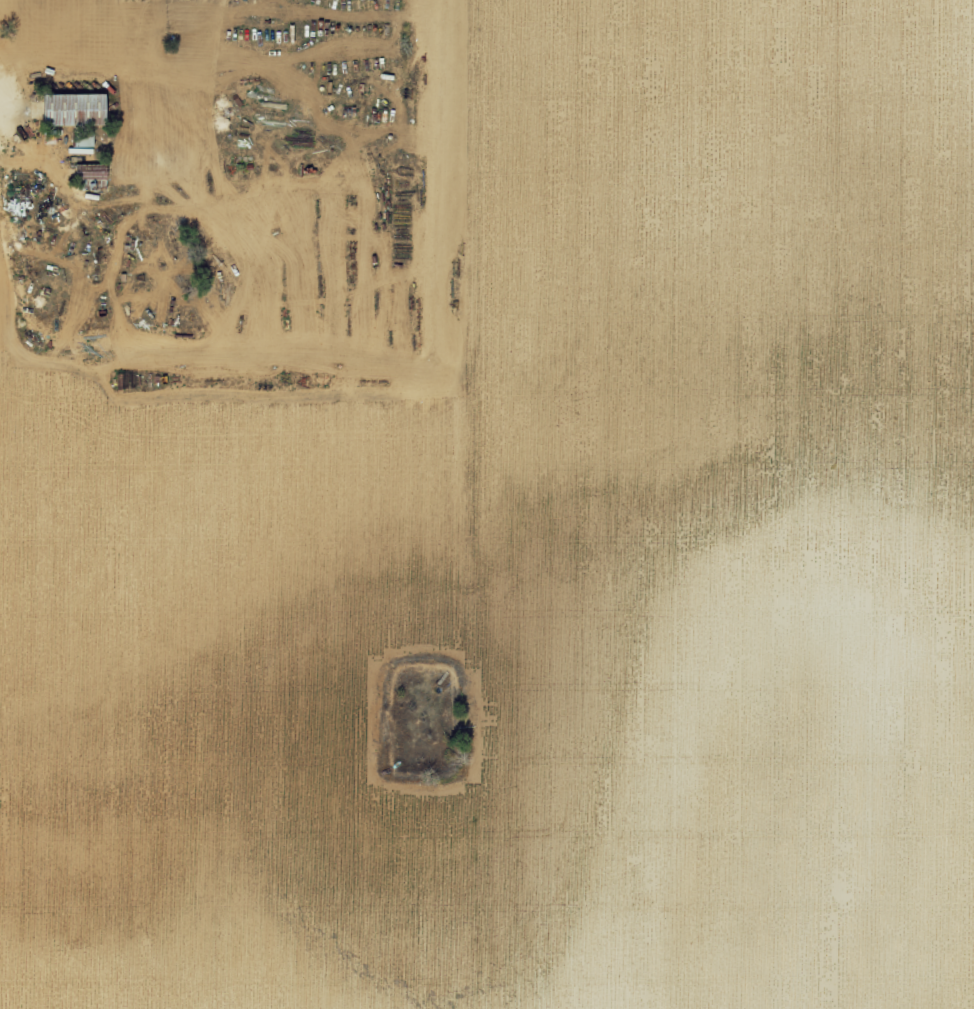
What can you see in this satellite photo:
building: (79, 111)

